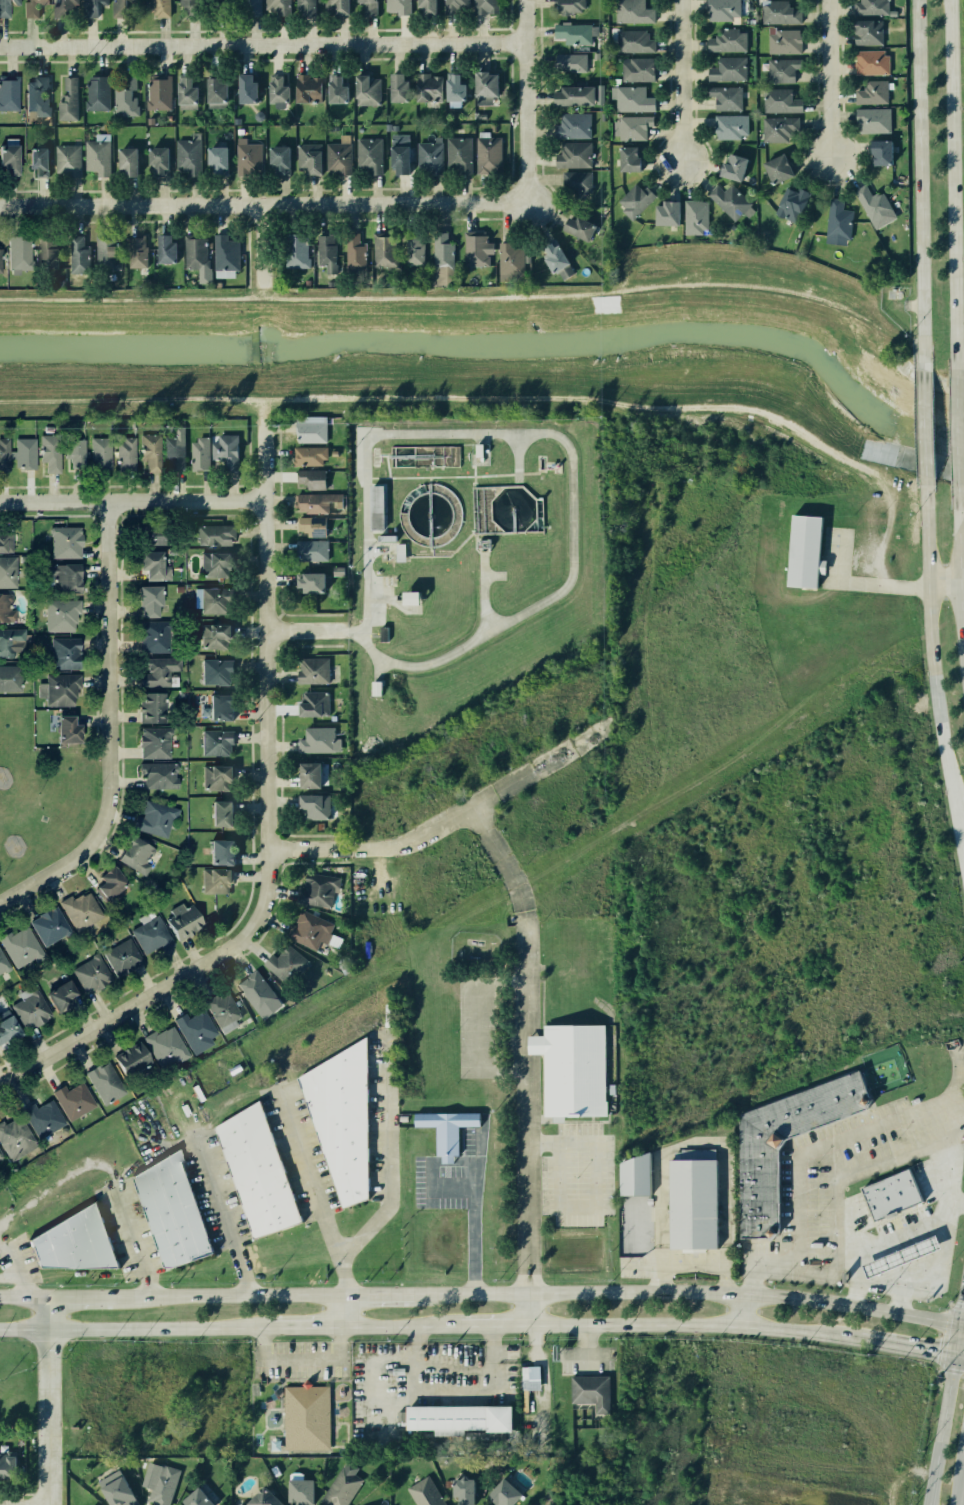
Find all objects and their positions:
building: (191, 6)
building: (217, 6)
building: (334, 6)
building: (365, 6)
building: (123, 7)
building: (250, 7)
building: (396, 7)
building: (424, 7)
building: (32, 8)
building: (276, 8)
building: (305, 8)
building: (455, 8)
building: (870, 8)
building: (94, 9)
building: (5, 10)
building: (64, 10)
building: (157, 10)
building: (486, 10)
building: (570, 10)
building: (720, 10)
building: (632, 12)
building: (779, 12)
building: (867, 33)
building: (575, 37)
building: (725, 40)
building: (634, 41)
building: (783, 42)
road: (261, 43)
building: (870, 63)
building: (570, 67)
building: (637, 70)
building: (724, 70)
building: (782, 71)
road: (828, 78)
road: (681, 80)
building: (306, 87)
building: (395, 87)
building: (454, 87)
building: (336, 88)
building: (422, 88)
building: (483, 89)
building: (245, 90)
building: (365, 90)
building: (183, 91)
building: (275, 91)
building: (96, 93)
building: (214, 93)
building: (870, 93)
building: (157, 94)
building: (8, 95)
building: (570, 96)
building: (36, 97)
building: (125, 97)
building: (66, 98)
building: (724, 98)
road: (523, 100)
building: (633, 100)
building: (779, 101)
building: (870, 121)
building: (571, 125)
building: (632, 127)
building: (778, 127)
building: (729, 129)
building: (877, 151)
building: (487, 154)
building: (572, 155)
building: (248, 156)
building: (369, 157)
building: (457, 157)
building: (398, 158)
building: (95, 159)
building: (186, 159)
building: (628, 159)
building: (214, 160)
building: (276, 161)
building: (306, 161)
building: (337, 161)
building: (65, 162)
building: (7, 163)
building: (34, 163)
building: (155, 163)
building: (428, 163)
building: (125, 164)
building: (729, 167)
building: (775, 168)
road: (919, 181)
building: (576, 184)
road: (952, 184)
building: (634, 200)
building: (729, 201)
road: (262, 202)
building: (788, 204)
building: (875, 207)
building: (663, 212)
building: (694, 218)
building: (837, 221)
building: (575, 226)
road: (260, 242)
building: (161, 249)
building: (415, 249)
building: (474, 249)
building: (440, 250)
building: (107, 252)
building: (135, 252)
building: (324, 252)
building: (382, 252)
building: (193, 254)
building: (356, 254)
building: (551, 254)
building: (47, 256)
building: (224, 256)
building: (294, 256)
building: (79, 257)
building: (19, 258)
building: (509, 259)
building: (0, 262)
river: (520, 357)
road: (923, 423)
building: (309, 431)
road: (551, 435)
road: (957, 437)
building: (225, 450)
building: (23, 451)
building: (149, 451)
building: (49, 452)
building: (74, 452)
building: (173, 452)
building: (99, 453)
building: (199, 453)
building: (3, 454)
building: (124, 454)
building: (308, 454)
building: (479, 455)
building: (310, 478)
road: (131, 501)
building: (310, 504)
building: (372, 506)
road: (961, 524)
building: (311, 526)
building: (145, 533)
building: (215, 535)
building: (383, 537)
building: (5, 542)
building: (65, 543)
building: (480, 544)
building: (310, 551)
building: (801, 551)
building: (398, 552)
building: (145, 564)
building: (211, 564)
wastewater plant: (466, 564)
building: (7, 572)
building: (58, 580)
road: (959, 580)
building: (308, 582)
road: (865, 583)
road: (943, 586)
building: (405, 597)
building: (146, 600)
building: (212, 600)
building: (5, 609)
building: (61, 616)
road: (314, 630)
building: (381, 633)
building: (214, 636)
building: (149, 638)
building: (10, 644)
road: (929, 646)
building: (69, 653)
building: (311, 671)
building: (214, 672)
building: (157, 675)
building: (9, 677)
road: (117, 679)
building: (372, 688)
building: (59, 691)
building: (312, 704)
building: (217, 705)
building: (150, 707)
building: (65, 729)
building: (317, 741)
building: (151, 742)
building: (215, 742)
building: (305, 775)
building: (157, 776)
building: (216, 777)
park: (41, 795)
road: (271, 797)
building: (312, 804)
building: (218, 813)
building: (153, 817)
road: (446, 824)
road: (958, 839)
building: (218, 852)
building: (131, 853)
road: (46, 879)
building: (215, 880)
building: (105, 882)
building: (314, 893)
building: (80, 912)
building: (182, 923)
building: (47, 928)
building: (308, 930)
building: (149, 937)
building: (19, 947)
building: (120, 957)
building: (285, 963)
building: (2, 967)
building: (88, 974)
building: (255, 990)
building: (56, 993)
building: (220, 1009)
building: (28, 1011)
building: (6, 1030)
building: (194, 1030)
road: (527, 1045)
building: (164, 1046)
building: (127, 1059)
building: (568, 1068)
road: (25, 1073)
building: (104, 1083)
building: (72, 1101)
building: (898, 1105)
building: (338, 1118)
building: (44, 1121)
building: (446, 1129)
building: (14, 1140)
road: (825, 1143)
road: (384, 1152)
building: (1, 1156)
building: (253, 1171)
road: (849, 1171)
building: (632, 1175)
building: (753, 1189)
road: (595, 1191)
building: (887, 1193)
road: (316, 1194)
road: (956, 1201)
building: (690, 1204)
building: (167, 1210)
road: (227, 1219)
road: (473, 1227)
building: (70, 1240)
road: (134, 1243)
gas station: (896, 1255)
building: (901, 1256)
road: (27, 1276)
road: (919, 1290)
road: (684, 1292)
road: (854, 1293)
road: (377, 1295)
road: (228, 1296)
road: (82, 1297)
road: (959, 1297)
road: (25, 1298)
road: (898, 1300)
road: (528, 1310)
road: (343, 1311)
road: (743, 1311)
traffic signals: (955, 1322)
road: (959, 1322)
road: (493, 1325)
road: (699, 1325)
road: (400, 1326)
road: (304, 1327)
road: (133, 1328)
road: (953, 1338)
road: (910, 1347)
building: (707, 1351)
traffic signals: (951, 1355)
road: (957, 1356)
road: (300, 1359)
road: (535, 1380)
building: (530, 1385)
building: (587, 1388)
road: (452, 1391)
road: (51, 1400)
building: (304, 1417)
building: (454, 1417)
road: (938, 1430)
building: (475, 1434)
building: (272, 1446)
building: (6, 1466)
building: (273, 1470)
road: (959, 1481)
building: (161, 1486)
building: (340, 1486)
building: (297, 1490)
building: (461, 1491)
building: (114, 1492)
building: (422, 1493)
building: (500, 1493)
building: (194, 1498)
building: (258, 1498)
road: (33, 1504)

